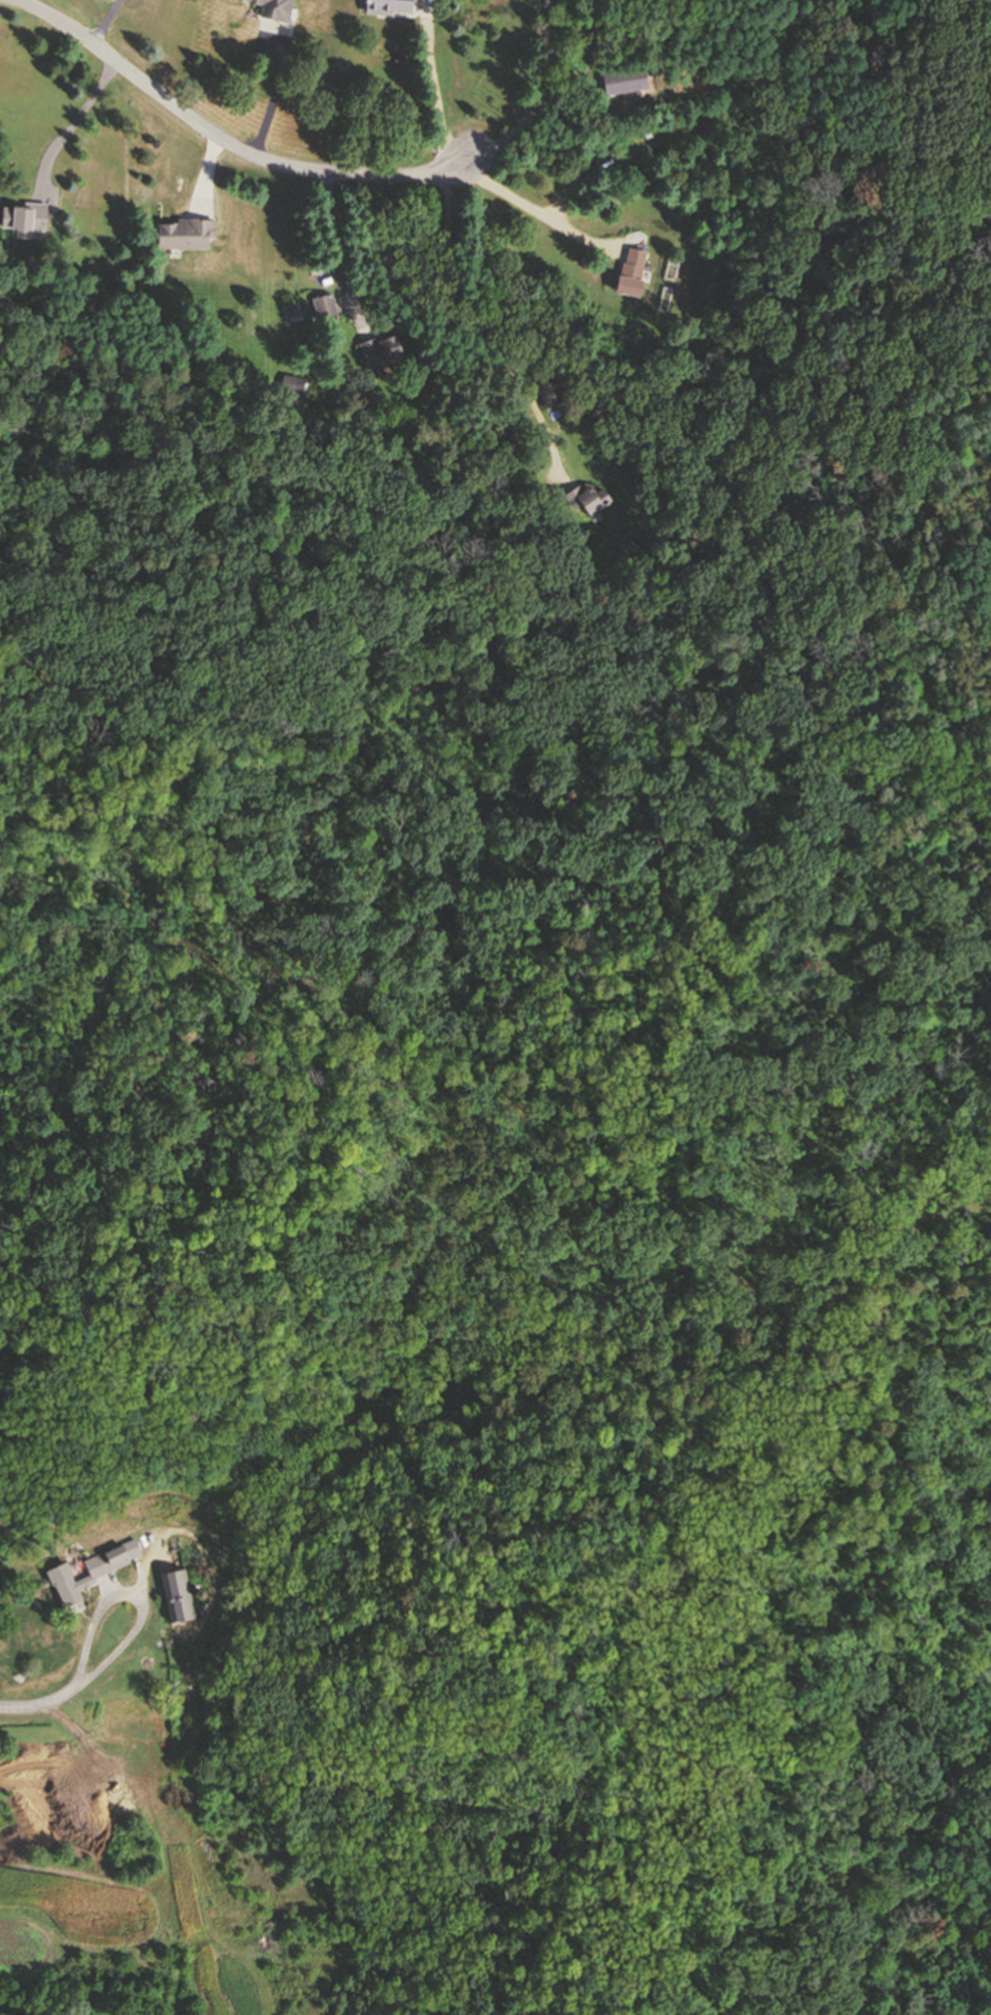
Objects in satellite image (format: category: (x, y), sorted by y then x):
building: (387, 5)
building: (276, 8)
road: (108, 23)
building: (627, 80)
road: (434, 83)
road: (277, 99)
road: (538, 100)
road: (75, 125)
road: (225, 139)
road: (539, 211)
building: (25, 216)
building: (186, 232)
road: (342, 251)
building: (635, 270)
building: (325, 304)
building: (74, 311)
road: (466, 330)
building: (383, 350)
building: (293, 382)
building: (553, 391)
building: (589, 496)
building: (91, 1568)
building: (175, 1584)
road: (145, 1598)
road: (40, 1704)
building: (80, 1709)

